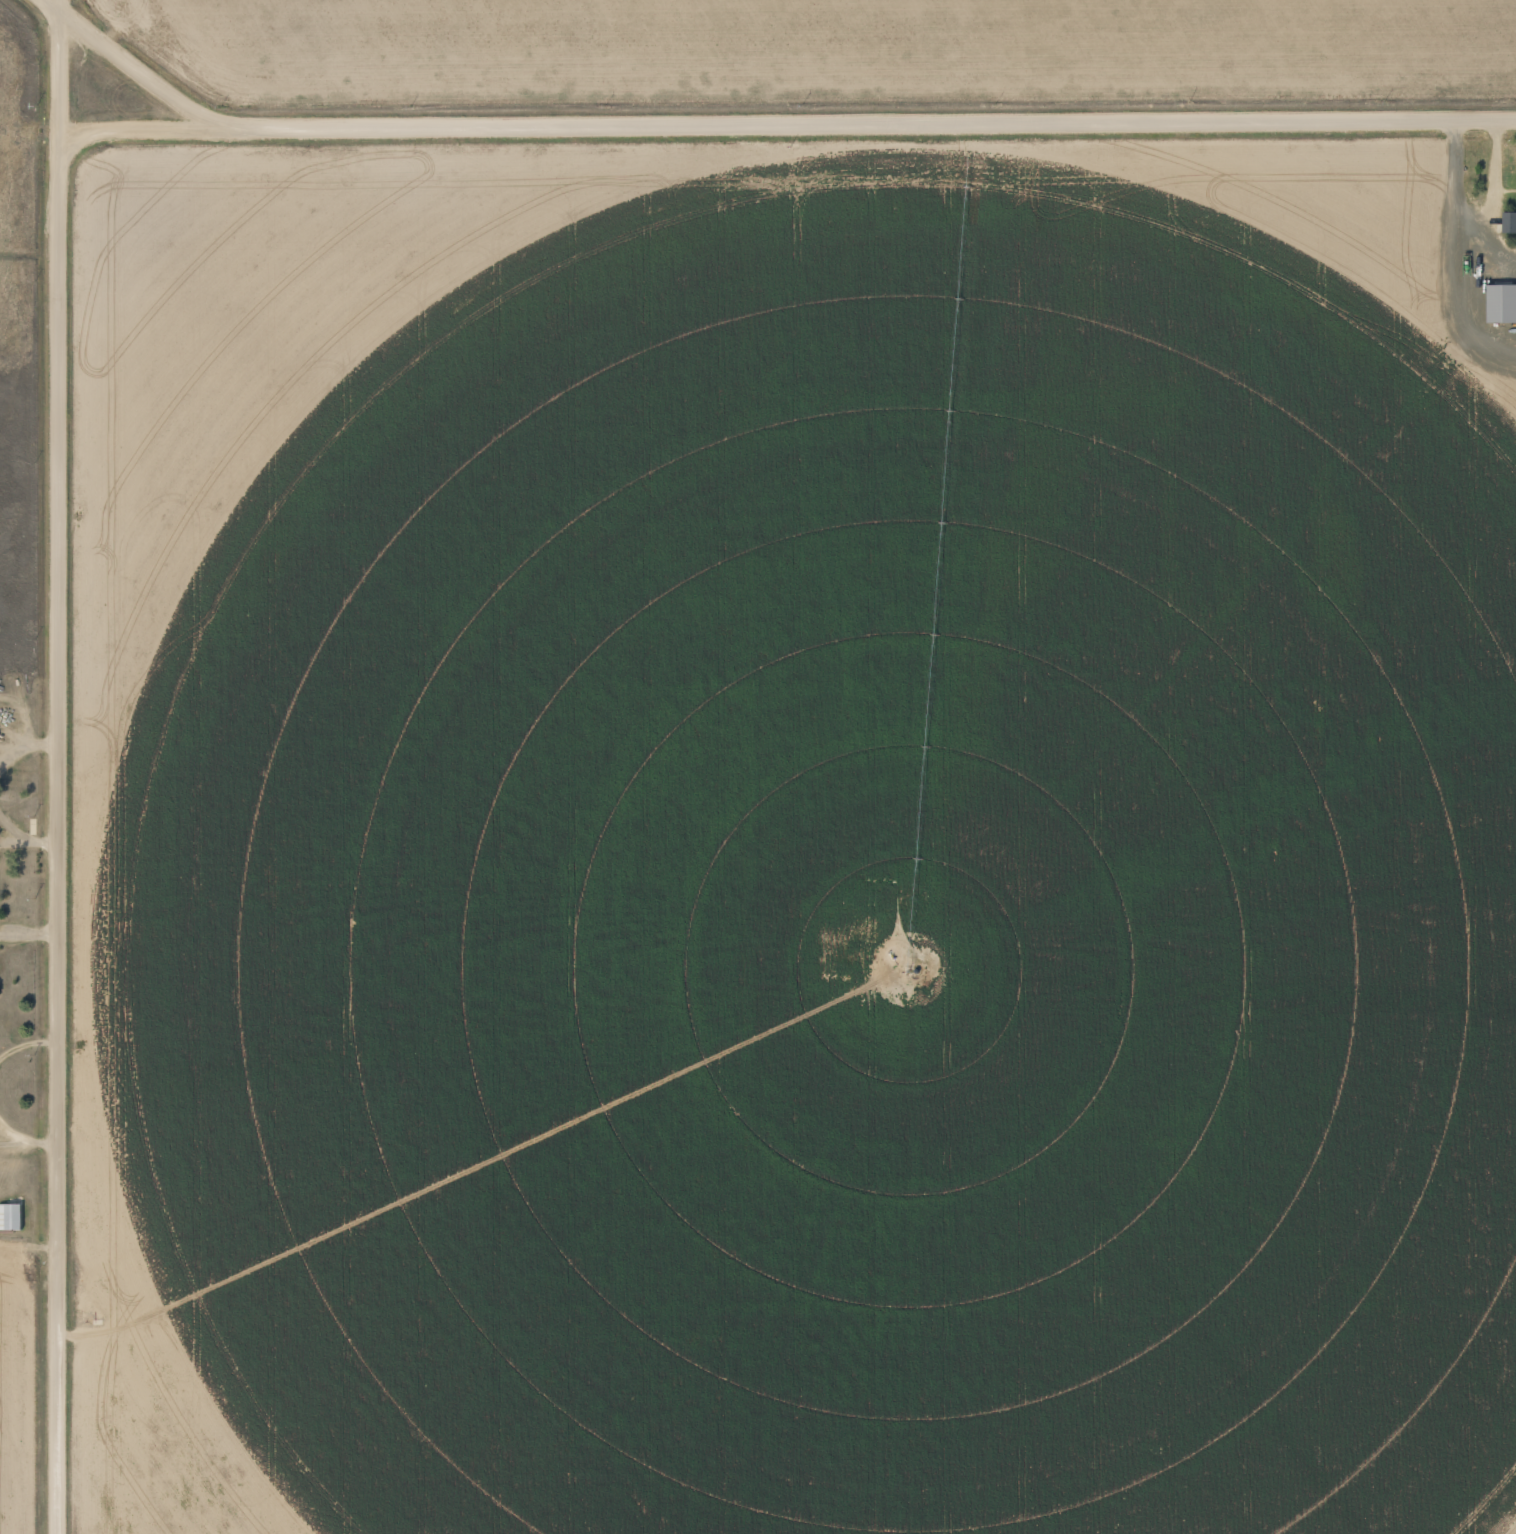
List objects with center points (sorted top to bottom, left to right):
road: (758, 124)
road: (139, 129)
road: (59, 766)

